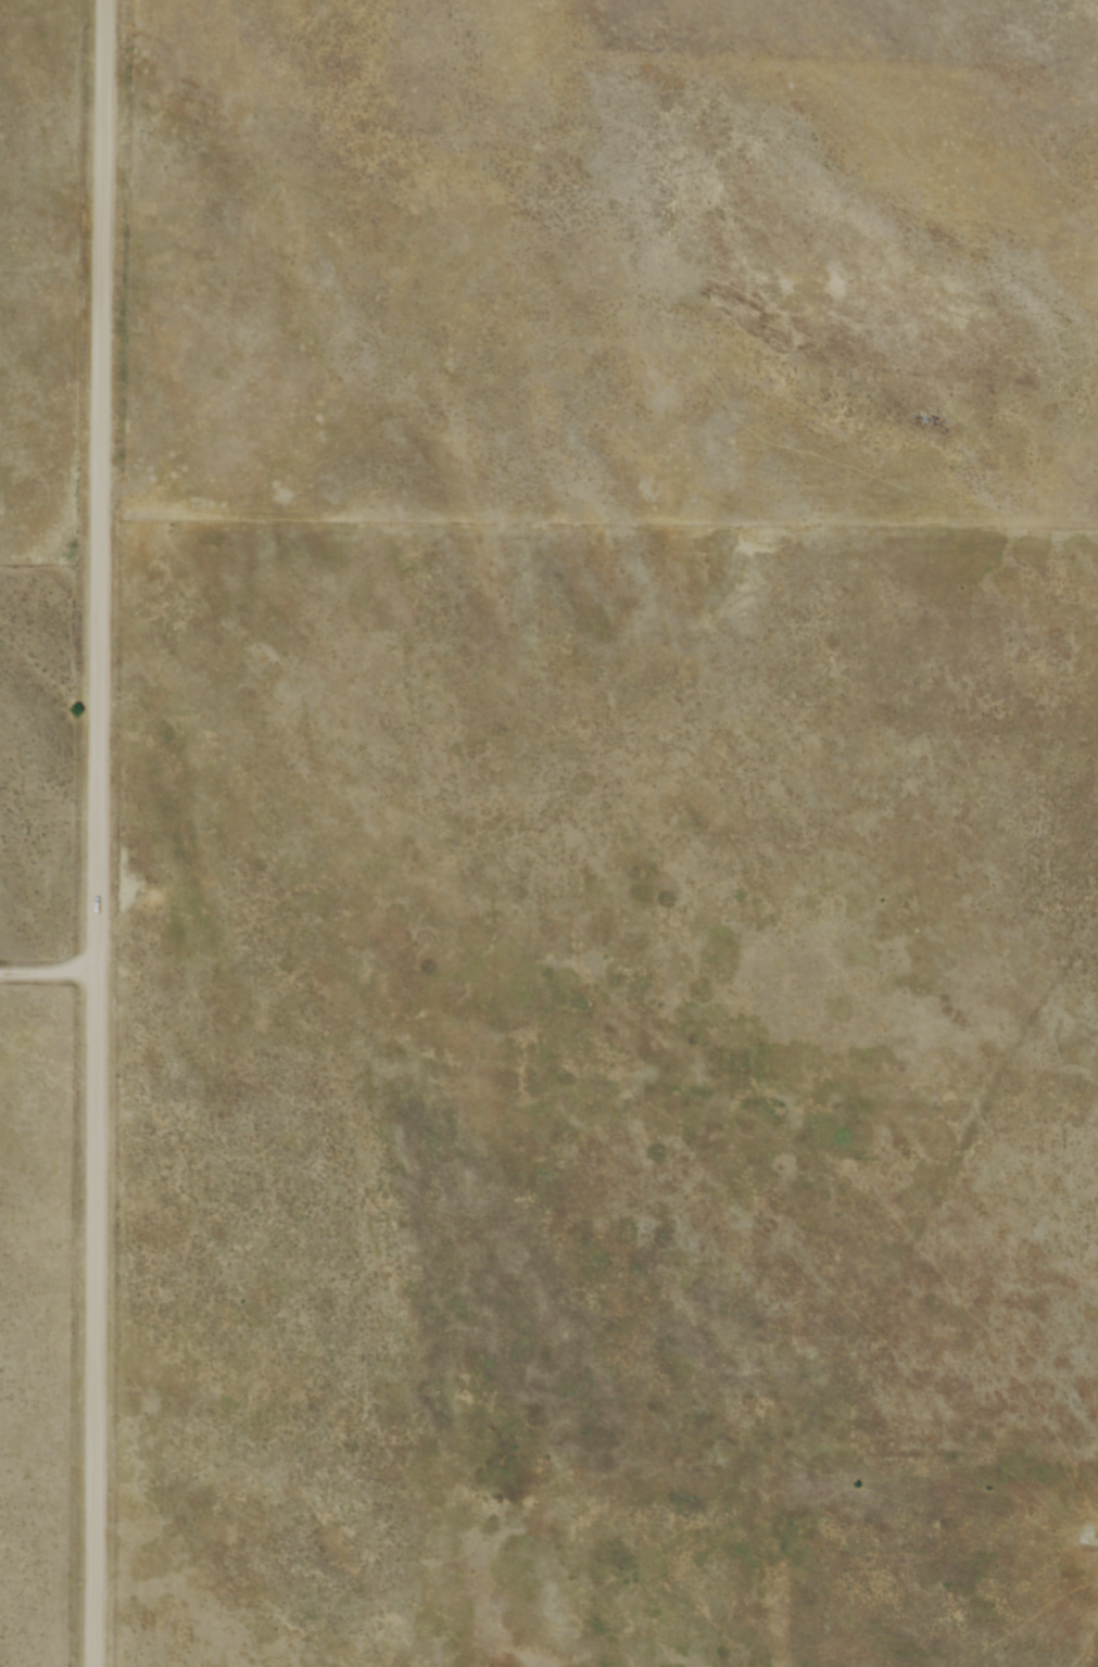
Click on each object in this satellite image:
road: (98, 833)
road: (48, 973)

